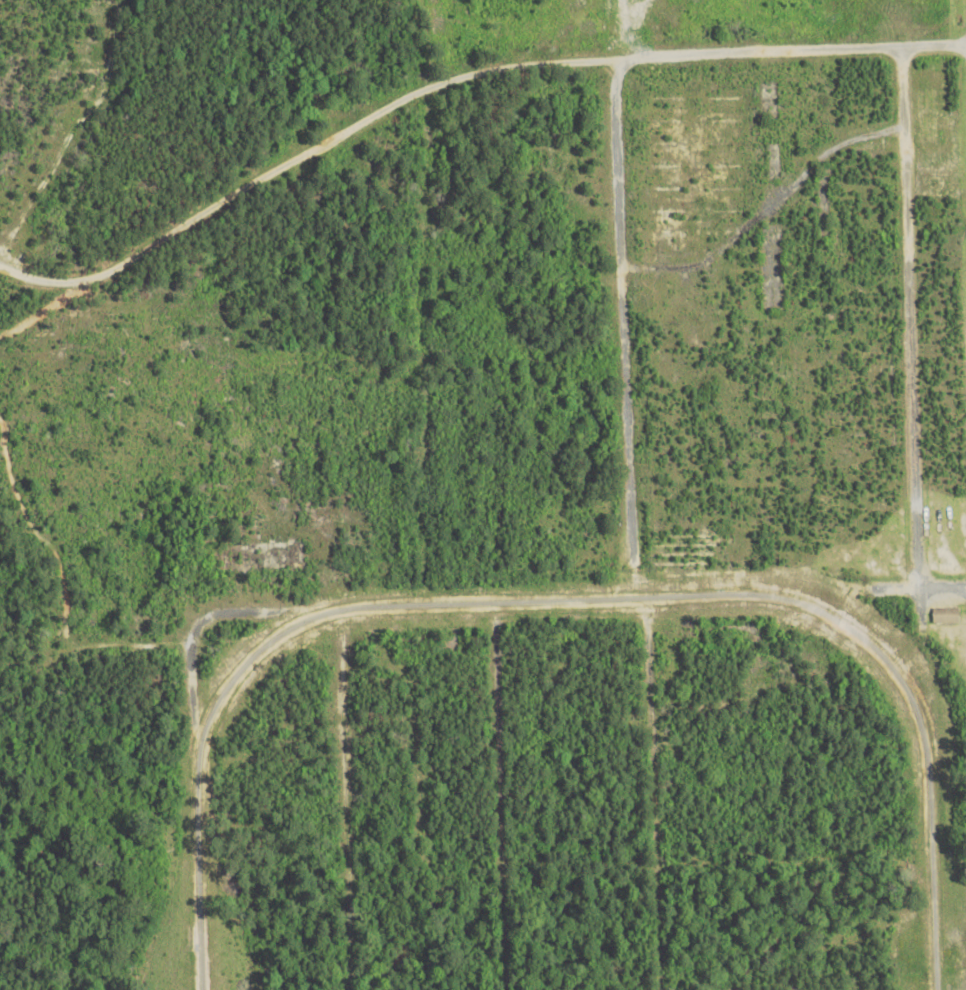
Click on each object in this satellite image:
road: (447, 82)
road: (920, 519)
road: (631, 525)
road: (427, 609)
building: (948, 616)
road: (503, 798)
road: (343, 801)

